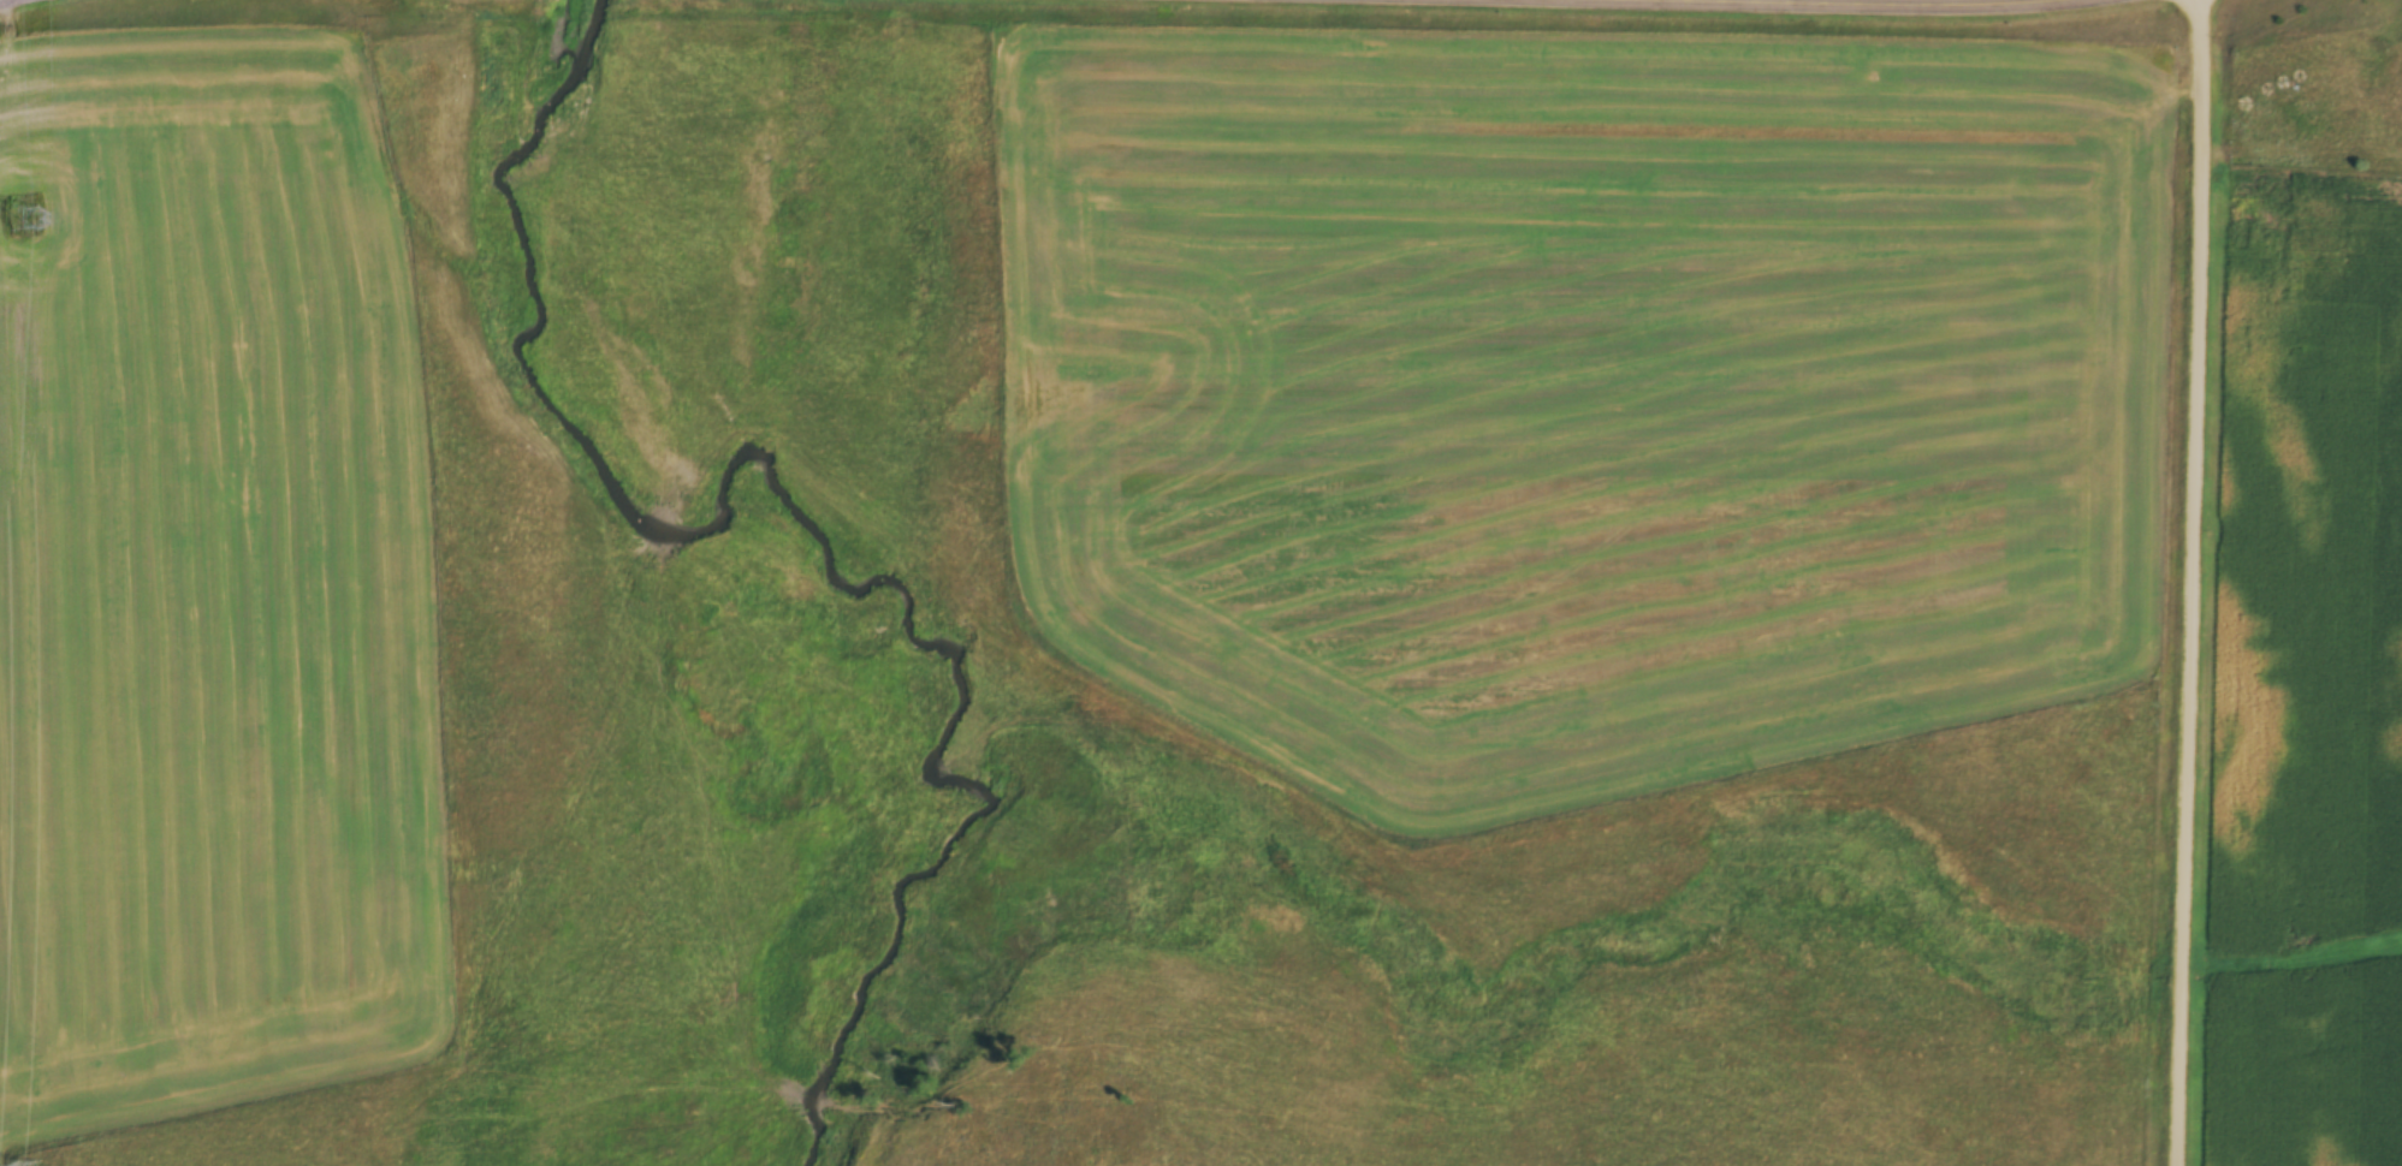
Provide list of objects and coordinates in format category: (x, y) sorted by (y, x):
road: (32, 7)
road: (1615, 7)
power tower: (28, 221)
road: (2188, 583)

